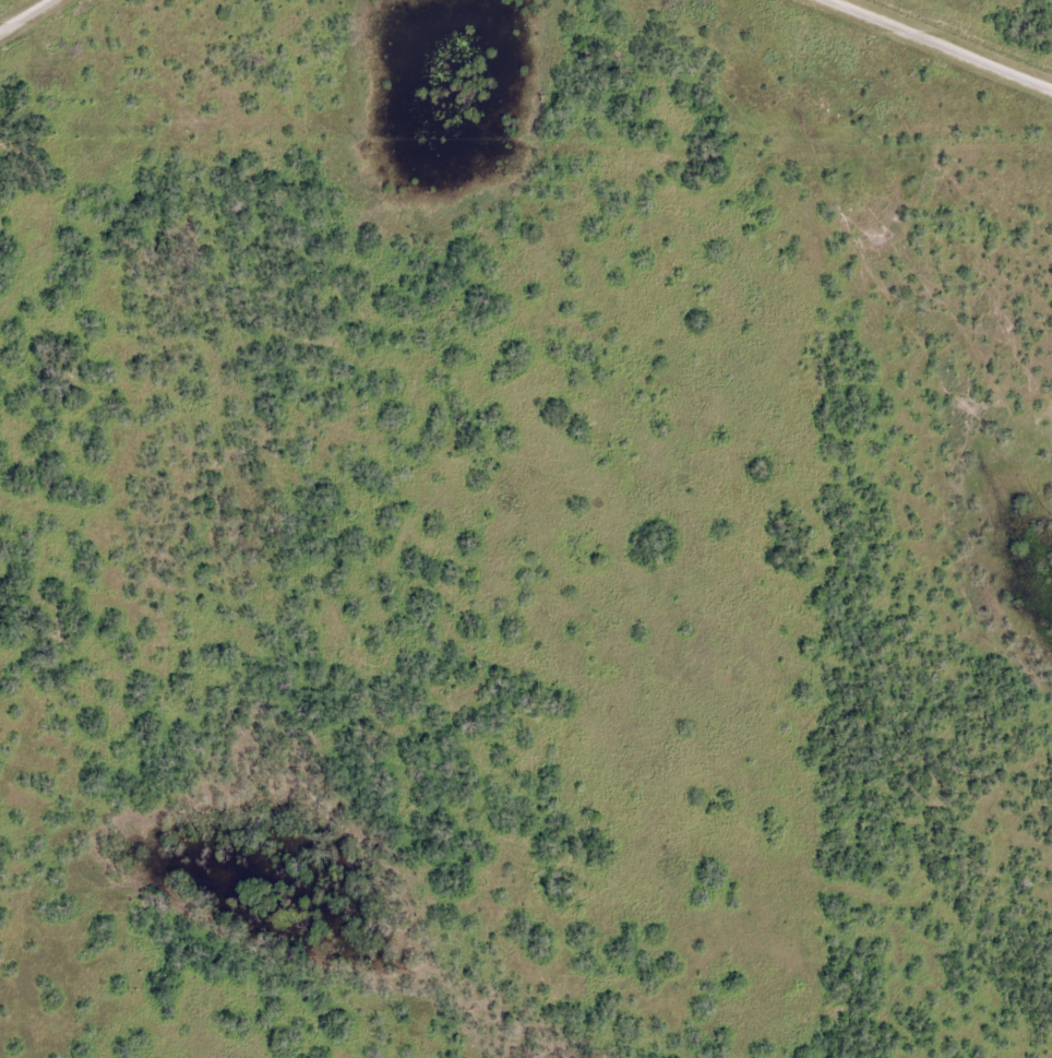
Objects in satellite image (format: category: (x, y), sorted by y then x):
road: (53, 11)
road: (39, 26)
road: (929, 45)

